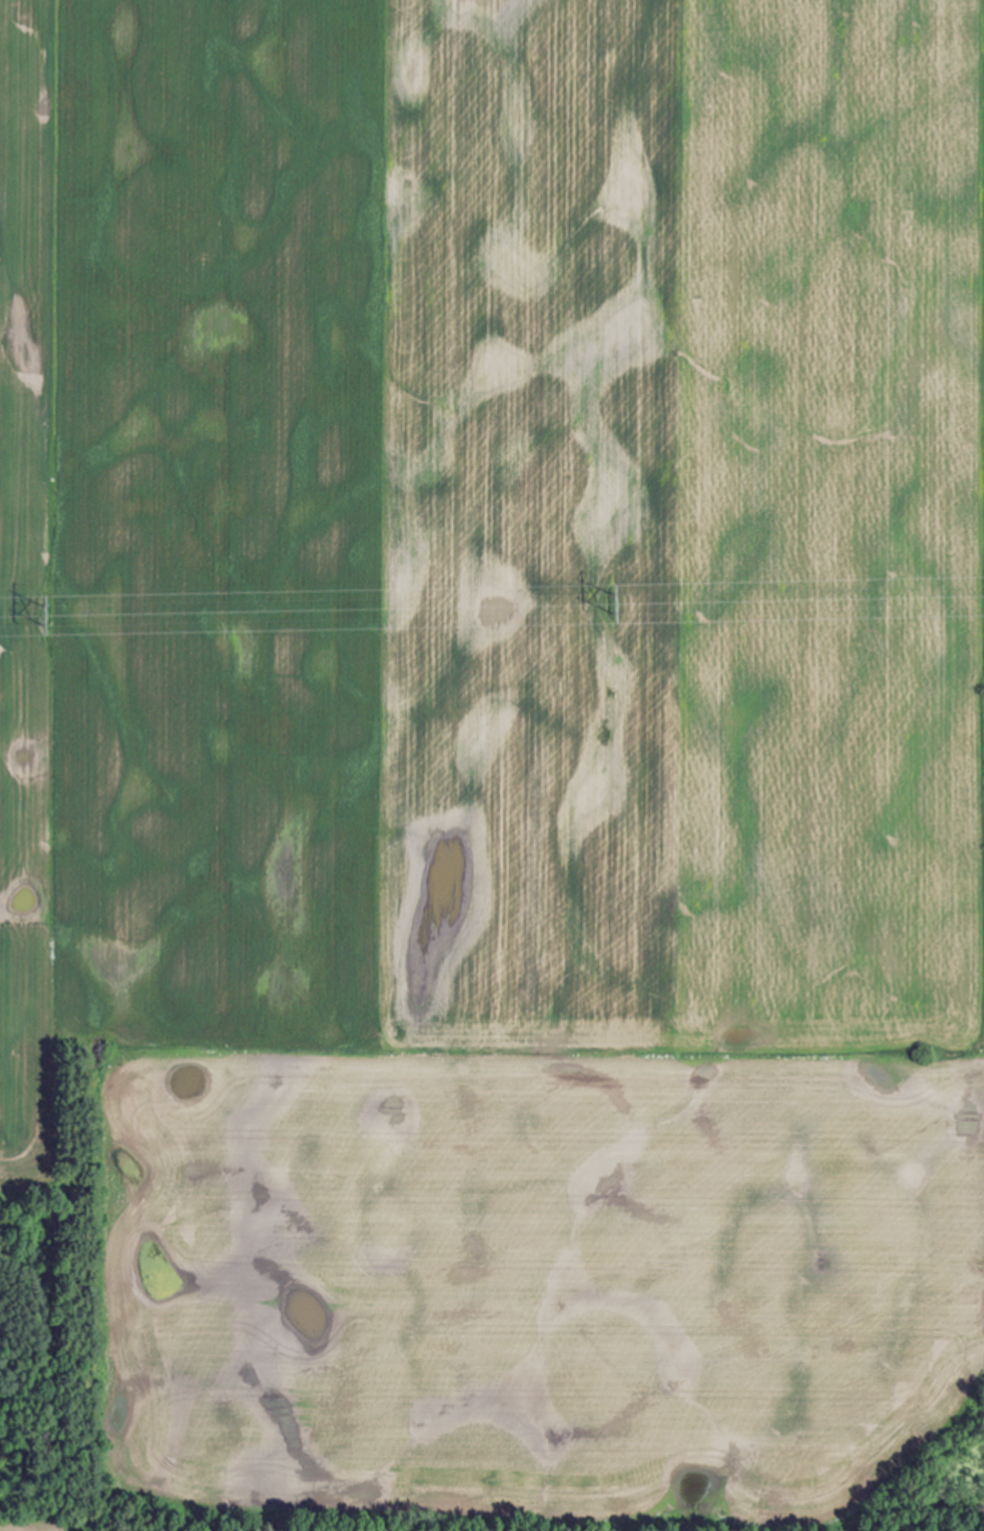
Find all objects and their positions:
power tower: (607, 606)
power tower: (35, 616)

